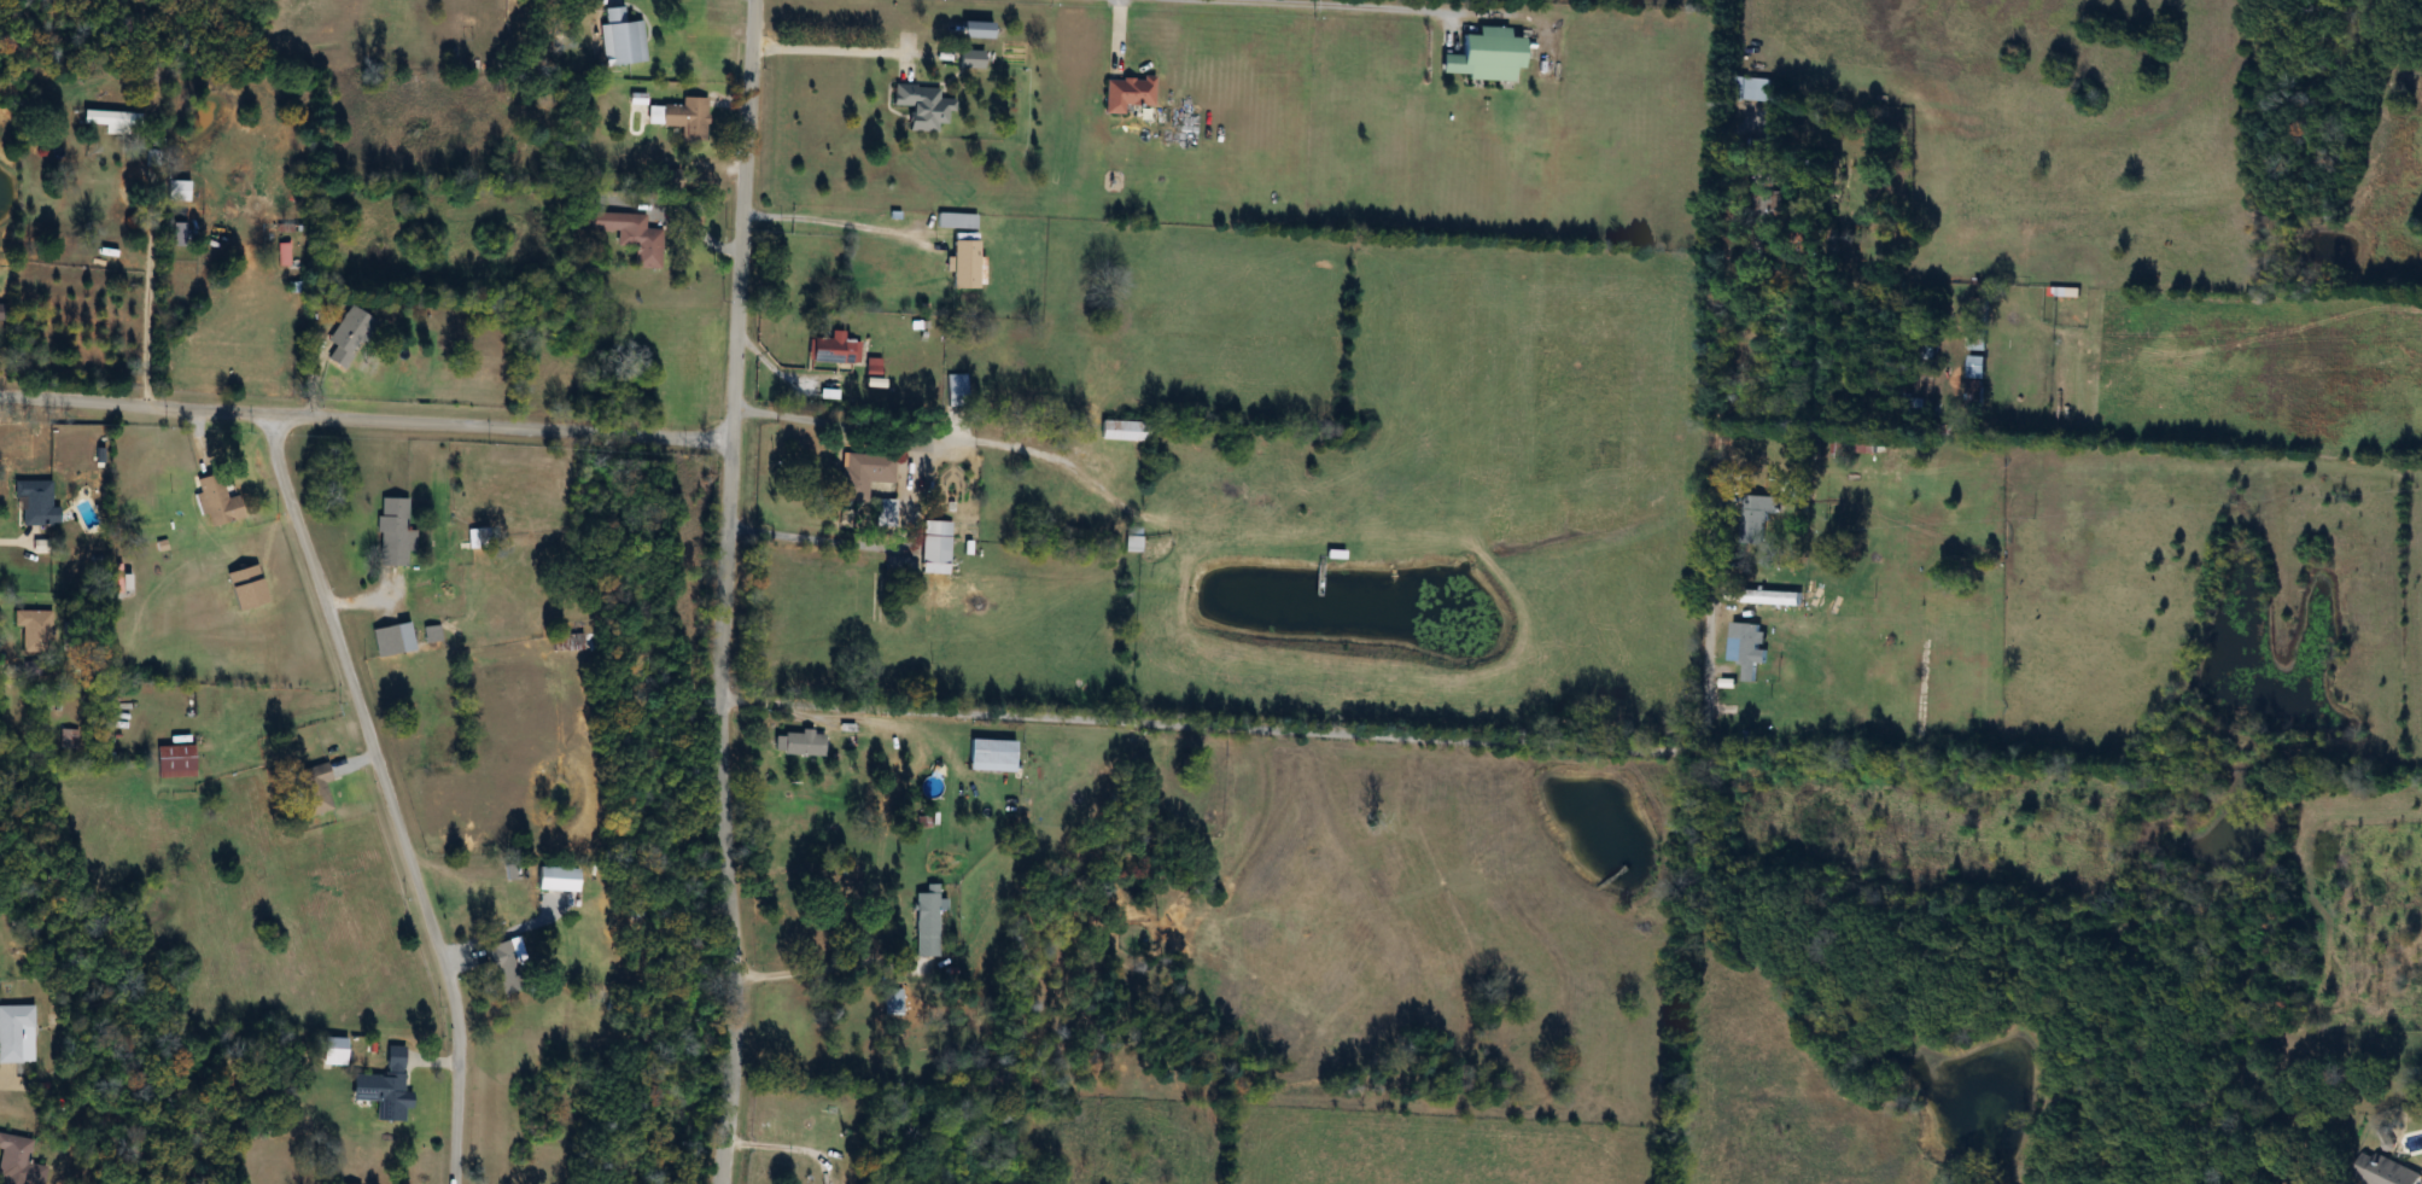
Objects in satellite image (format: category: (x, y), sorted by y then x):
road: (1314, 6)
building: (619, 40)
road: (845, 53)
building: (1482, 57)
building: (969, 60)
building: (1753, 91)
building: (1126, 94)
building: (920, 107)
building: (685, 119)
building: (115, 123)
building: (176, 192)
road: (823, 221)
building: (955, 222)
building: (626, 235)
building: (962, 266)
road: (145, 270)
building: (2, 314)
building: (346, 338)
building: (833, 351)
building: (1925, 352)
building: (1973, 379)
building: (1920, 386)
building: (955, 391)
road: (364, 421)
building: (1945, 431)
building: (1122, 432)
building: (1868, 448)
building: (863, 476)
road: (907, 492)
building: (216, 502)
building: (33, 504)
building: (883, 514)
building: (1755, 519)
building: (392, 532)
building: (1131, 539)
building: (933, 549)
road: (725, 591)
building: (1769, 599)
building: (1940, 611)
building: (35, 631)
building: (431, 636)
building: (390, 641)
building: (1745, 651)
building: (66, 740)
building: (796, 745)
road: (1521, 746)
building: (990, 757)
building: (173, 763)
building: (311, 791)
road: (390, 797)
building: (508, 873)
building: (924, 923)
road: (816, 964)
building: (506, 966)
building: (17, 1036)
building: (386, 1098)
building: (2380, 1172)

